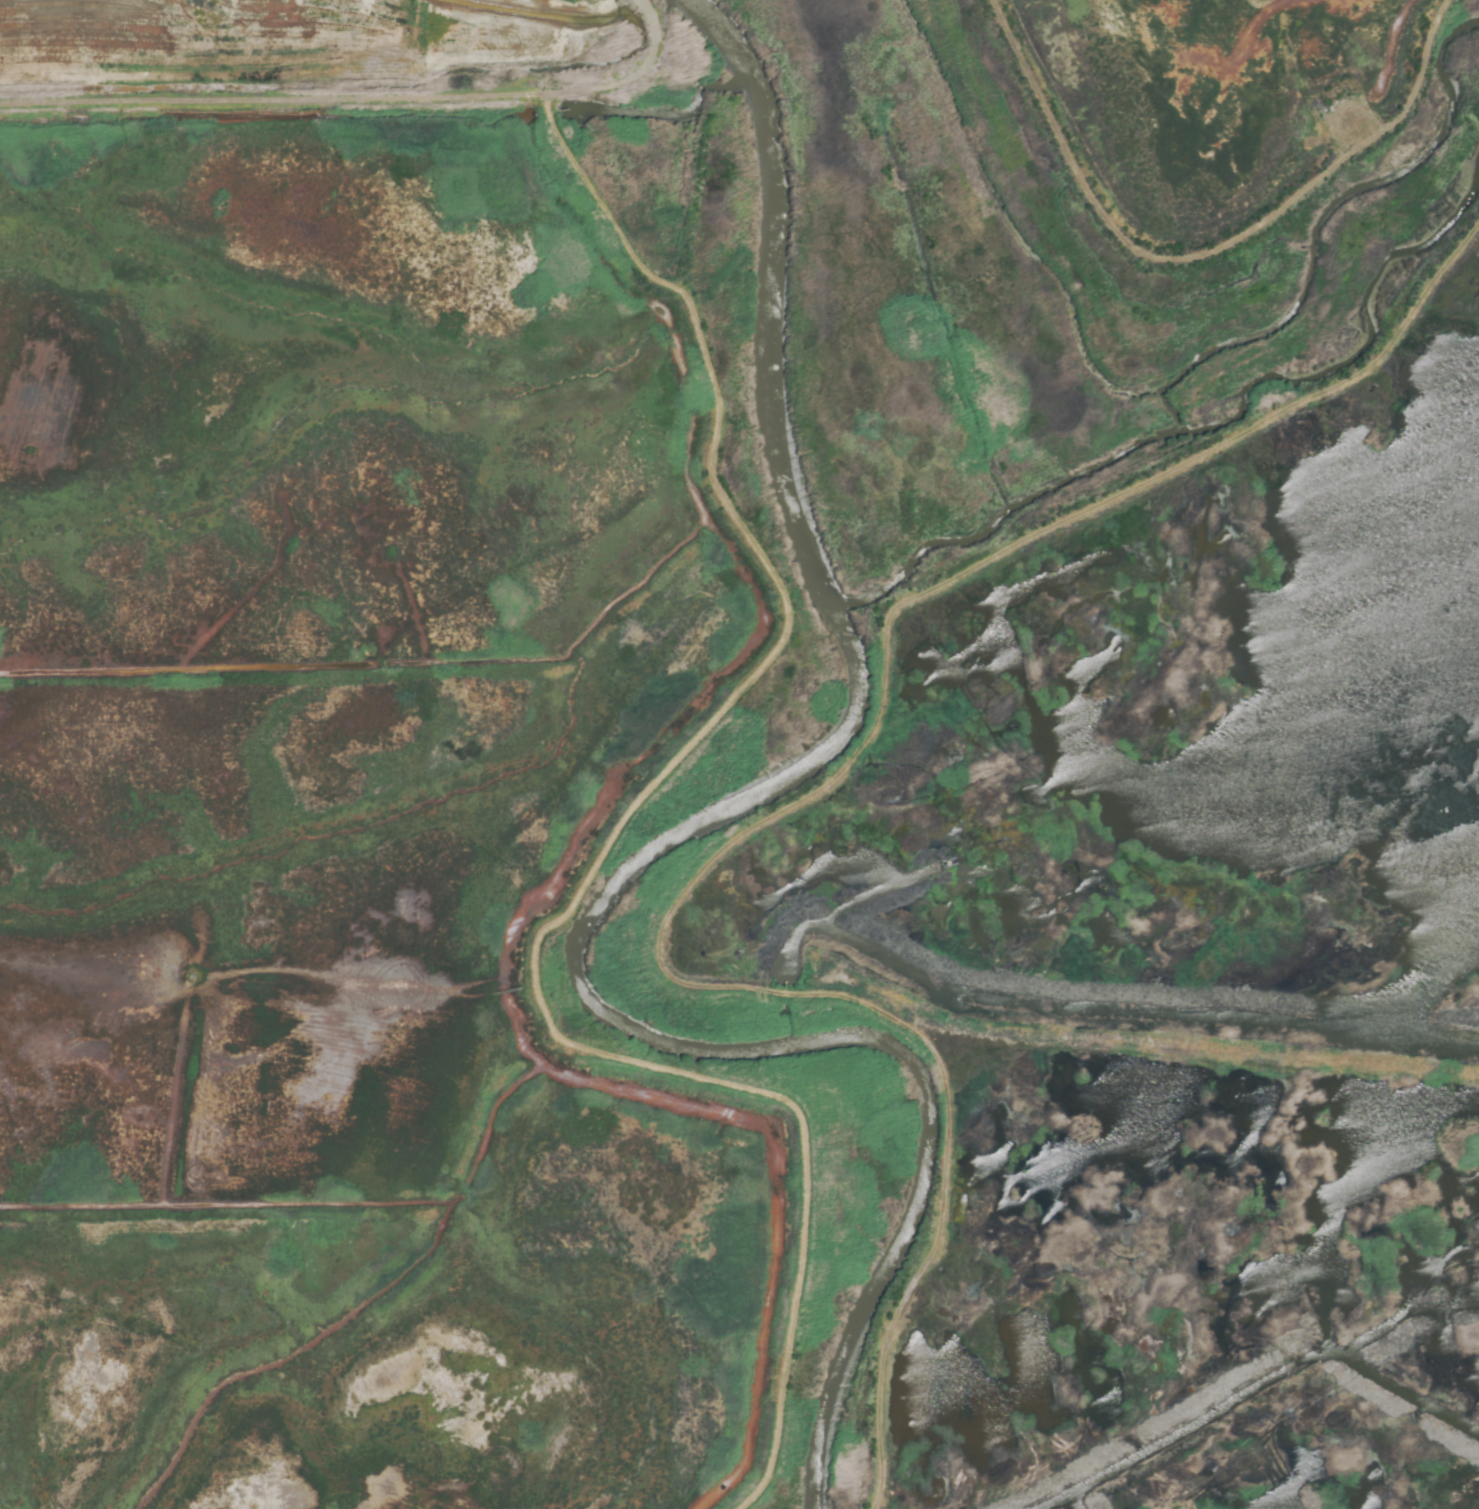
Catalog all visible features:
road: (658, 28)
road: (117, 119)
road: (114, 157)
road: (1208, 253)
road: (779, 639)
road: (789, 815)
road: (506, 991)
road: (494, 993)

